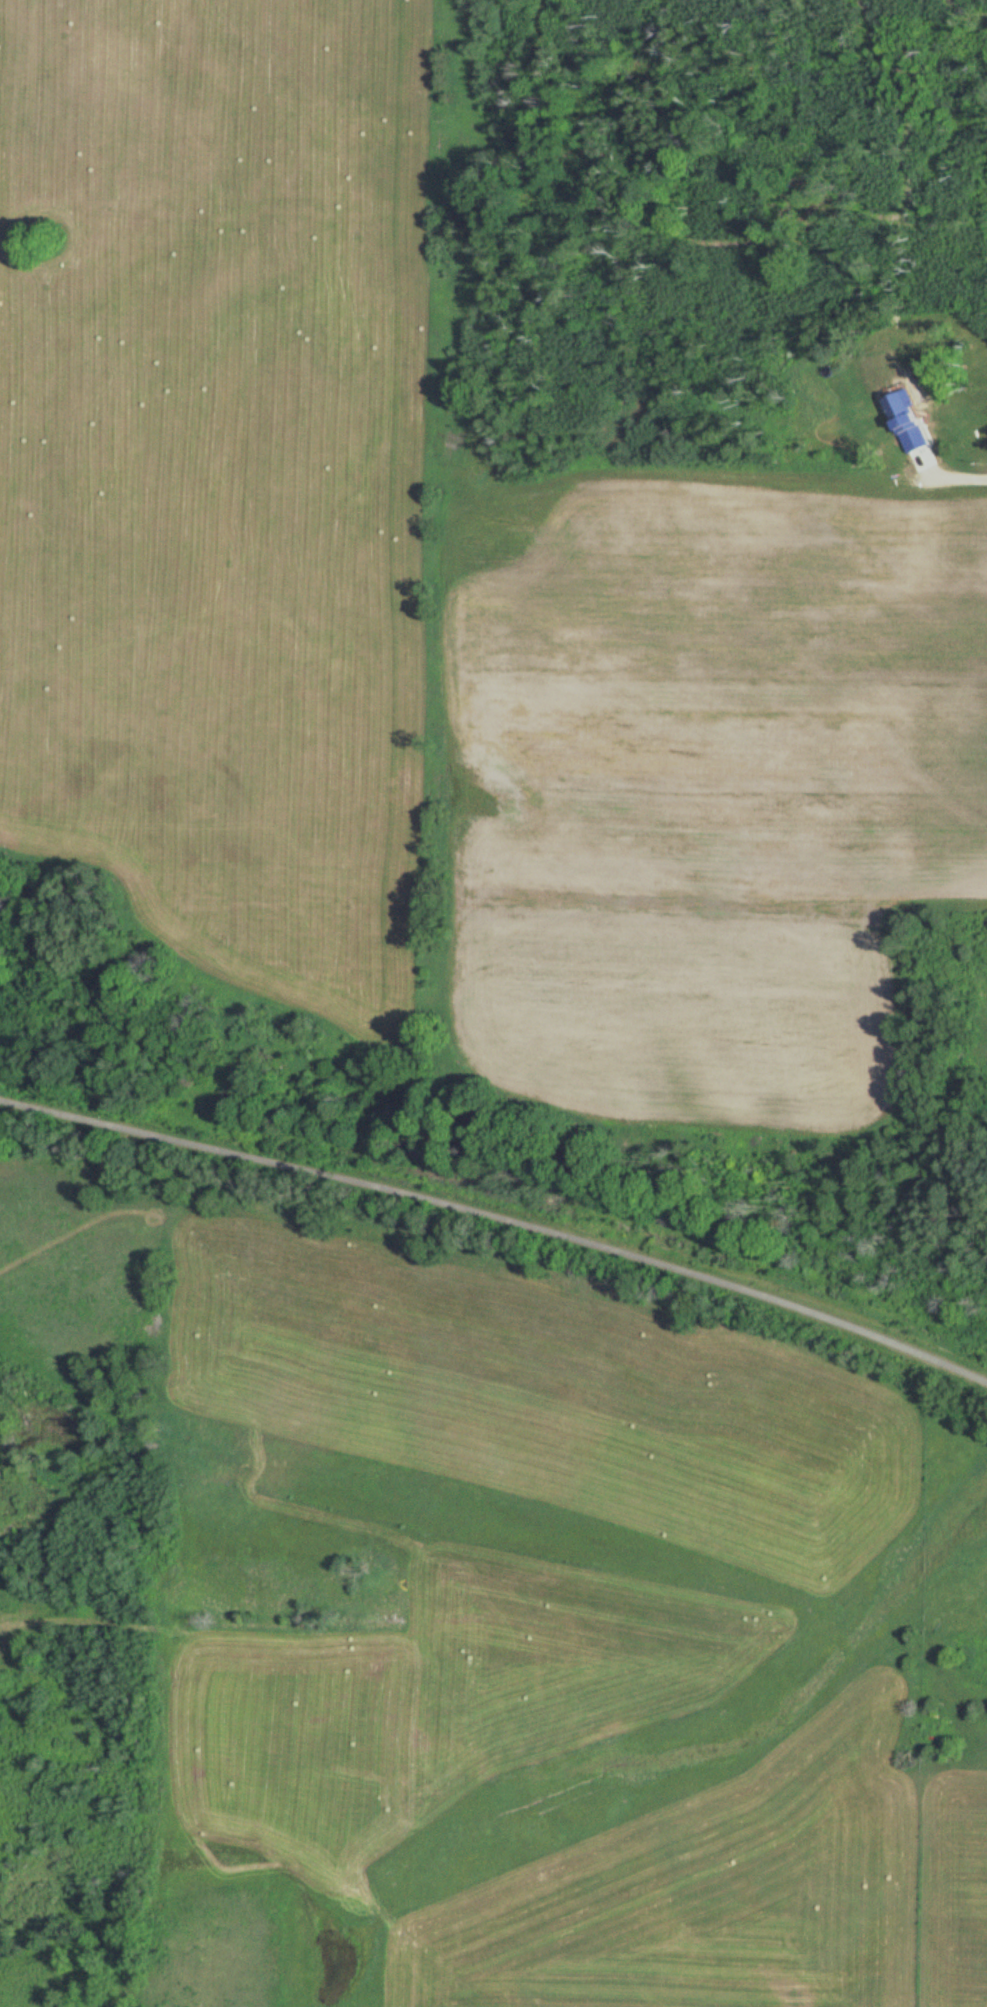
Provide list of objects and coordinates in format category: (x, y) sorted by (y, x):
road: (945, 475)
road: (500, 1216)

